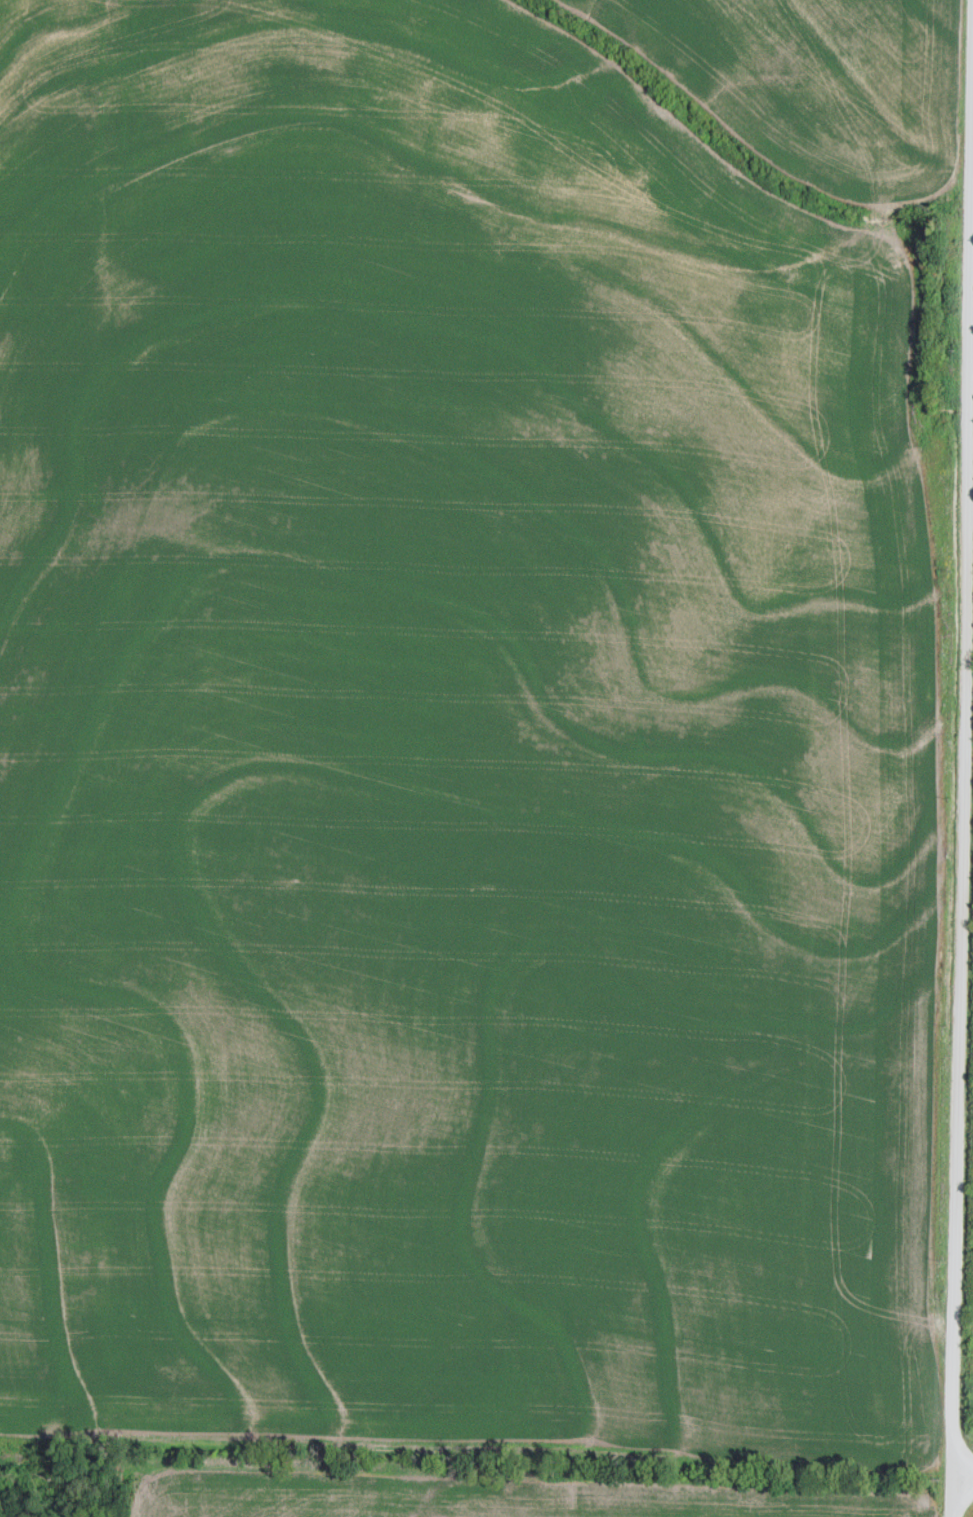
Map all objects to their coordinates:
road: (962, 832)
road: (963, 1476)

